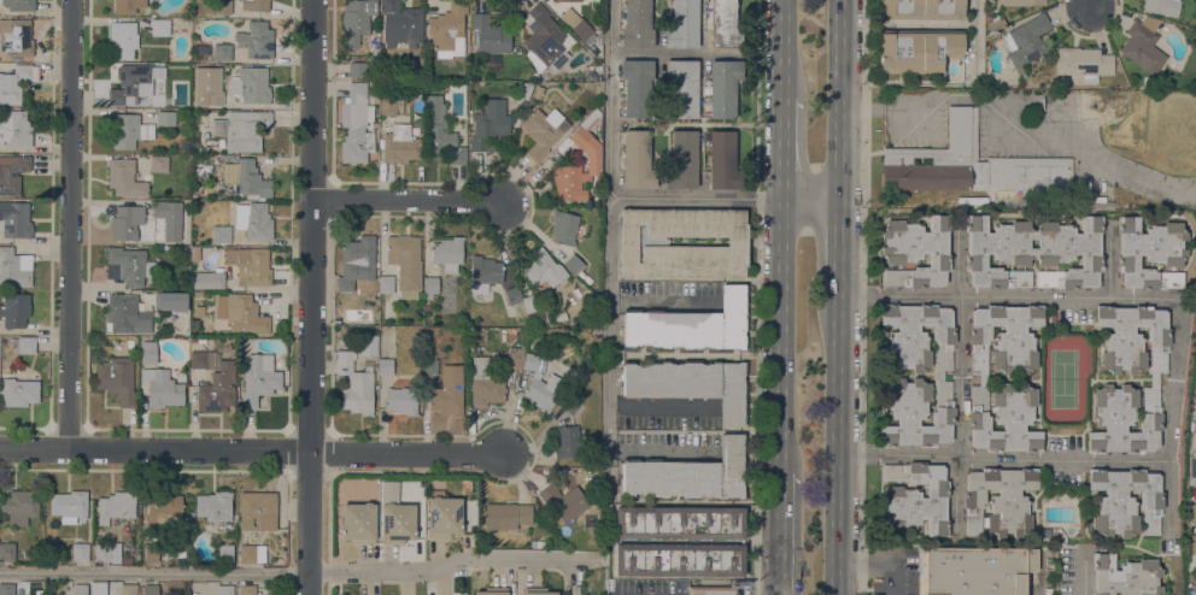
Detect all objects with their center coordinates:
building: (573, 0)
building: (556, 1)
building: (1022, 2)
road: (1092, 4)
building: (19, 5)
building: (254, 5)
building: (125, 6)
building: (222, 6)
building: (1161, 6)
building: (921, 8)
building: (987, 17)
building: (357, 19)
building: (998, 22)
building: (401, 24)
building: (578, 24)
building: (637, 24)
building: (684, 24)
building: (159, 25)
building: (599, 25)
building: (725, 25)
building: (448, 30)
building: (489, 35)
building: (16, 37)
building: (546, 37)
road: (974, 37)
building: (123, 39)
building: (256, 40)
building: (1026, 40)
building: (1143, 45)
building: (917, 49)
road: (784, 51)
building: (222, 52)
building: (493, 60)
building: (1084, 61)
building: (168, 66)
building: (357, 69)
building: (1149, 82)
building: (13, 83)
building: (134, 84)
building: (637, 87)
building: (682, 87)
building: (723, 87)
building: (242, 88)
building: (524, 92)
road: (838, 100)
building: (389, 104)
building: (165, 118)
building: (354, 124)
building: (375, 124)
building: (16, 128)
road: (1019, 128)
building: (242, 129)
building: (487, 129)
building: (128, 130)
building: (415, 130)
building: (440, 131)
building: (541, 131)
building: (581, 134)
building: (400, 145)
road: (782, 151)
building: (637, 160)
building: (682, 160)
building: (722, 160)
building: (158, 163)
building: (969, 164)
building: (12, 172)
building: (125, 177)
building: (245, 178)
building: (569, 181)
road: (723, 199)
road: (405, 201)
building: (1102, 205)
building: (160, 210)
building: (14, 219)
building: (254, 220)
building: (129, 223)
road: (69, 224)
building: (563, 228)
building: (221, 234)
building: (644, 241)
road: (838, 248)
road: (609, 249)
building: (916, 251)
building: (1033, 252)
building: (447, 253)
building: (1150, 253)
building: (230, 255)
building: (357, 261)
road: (1110, 261)
building: (405, 263)
building: (573, 264)
building: (131, 265)
building: (16, 266)
building: (253, 266)
building: (543, 269)
building: (483, 273)
building: (584, 276)
building: (209, 279)
building: (386, 283)
building: (429, 285)
building: (512, 295)
road: (310, 296)
road: (1006, 297)
building: (218, 299)
building: (170, 300)
building: (529, 304)
building: (14, 308)
building: (127, 313)
building: (246, 314)
building: (514, 320)
building: (693, 324)
building: (511, 334)
road: (780, 335)
building: (1133, 337)
building: (201, 338)
building: (193, 340)
building: (25, 344)
building: (368, 344)
building: (148, 352)
building: (515, 358)
building: (201, 359)
building: (17, 365)
building: (386, 366)
building: (430, 366)
building: (938, 375)
building: (180, 376)
building: (117, 378)
building: (258, 378)
building: (983, 378)
building: (1154, 378)
road: (957, 381)
building: (356, 383)
building: (688, 383)
building: (483, 384)
building: (540, 384)
building: (160, 387)
building: (217, 388)
building: (18, 391)
building: (448, 391)
building: (400, 399)
building: (1125, 419)
road: (1172, 419)
building: (567, 441)
road: (837, 444)
road: (253, 452)
road: (1004, 459)
road: (1195, 469)
building: (690, 473)
building: (915, 497)
building: (563, 500)
building: (998, 500)
building: (1125, 501)
building: (69, 505)
building: (19, 506)
building: (116, 506)
building: (163, 506)
building: (212, 506)
building: (258, 509)
building: (506, 514)
building: (444, 516)
building: (358, 522)
building: (397, 523)
building: (1195, 529)
road: (779, 532)
building: (679, 541)
building: (537, 543)
building: (7, 550)
building: (80, 552)
building: (107, 552)
building: (149, 552)
building: (224, 553)
building: (252, 553)
building: (127, 559)
road: (879, 564)
building: (977, 570)
road: (299, 572)
road: (1084, 572)
building: (1125, 576)
road: (1194, 582)
building: (7, 589)
building: (80, 589)
building: (124, 589)
building: (149, 589)
building: (224, 589)
building: (247, 590)
building: (492, 590)
building: (711, 590)
building: (538, 591)
building: (1192, 594)

